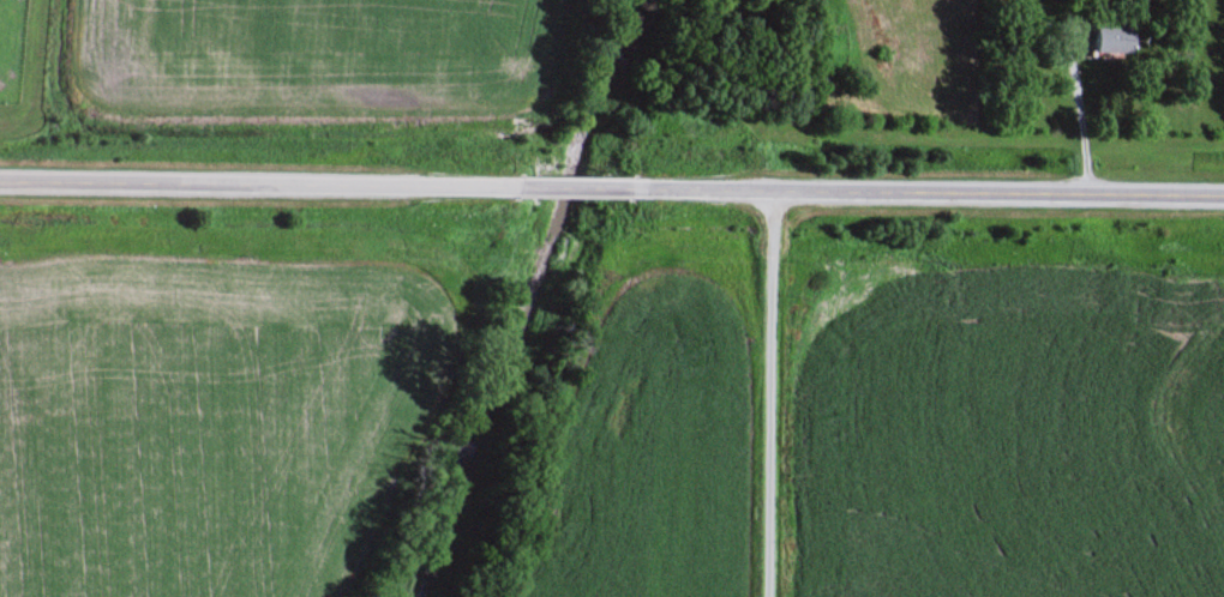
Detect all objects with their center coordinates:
building: (1114, 37)
road: (254, 183)
road: (568, 187)
road: (925, 193)
road: (769, 393)

